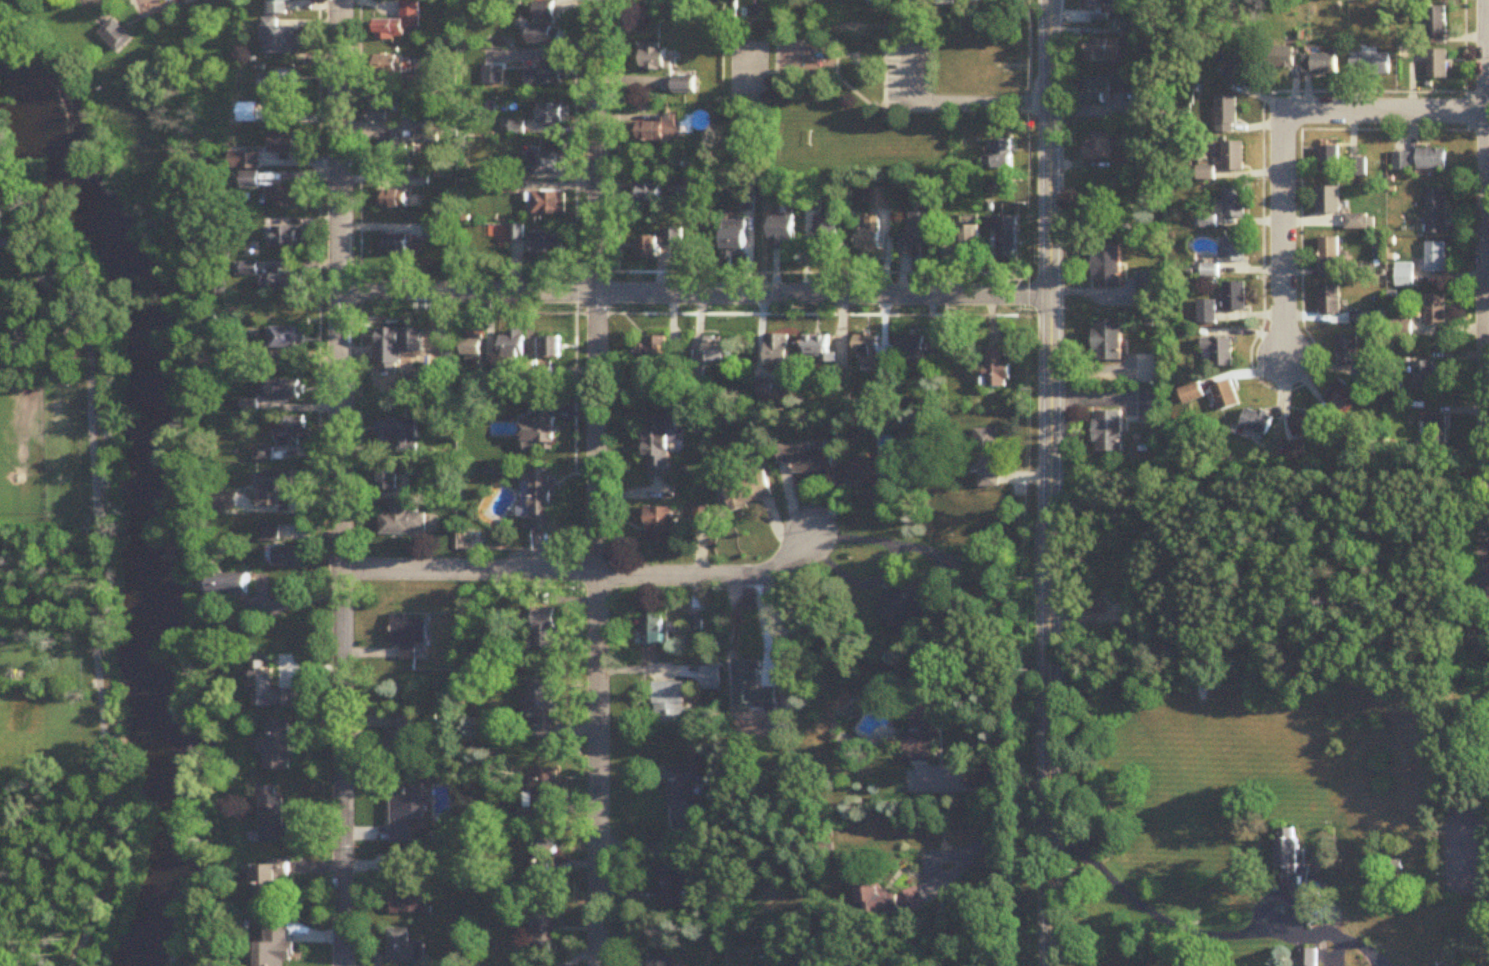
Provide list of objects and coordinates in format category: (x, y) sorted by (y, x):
building: (204, 0)
building: (949, 2)
building: (974, 2)
building: (1106, 3)
building: (281, 7)
road: (99, 10)
building: (543, 10)
road: (156, 11)
building: (400, 22)
building: (1436, 22)
road: (1484, 29)
building: (547, 35)
park: (106, 36)
building: (114, 36)
building: (283, 39)
road: (817, 43)
building: (1101, 50)
road: (1025, 56)
building: (655, 58)
building: (1281, 58)
building: (1319, 65)
building: (1370, 65)
building: (1437, 65)
road: (1485, 65)
building: (389, 66)
park: (879, 68)
building: (1242, 70)
building: (545, 73)
park: (747, 74)
road: (812, 75)
road: (836, 78)
building: (280, 83)
building: (684, 87)
building: (1107, 87)
road: (955, 105)
road: (880, 106)
building: (380, 110)
road: (956, 111)
building: (552, 114)
building: (1227, 114)
building: (517, 127)
building: (657, 130)
road: (1282, 141)
building: (289, 143)
road: (1487, 143)
road: (360, 146)
building: (1100, 146)
building: (395, 149)
building: (998, 156)
building: (1234, 156)
building: (1431, 160)
building: (246, 161)
building: (1328, 161)
building: (1400, 162)
building: (546, 163)
building: (1356, 169)
building: (251, 181)
building: (650, 193)
building: (394, 194)
building: (287, 197)
building: (1328, 201)
building: (548, 203)
building: (1234, 203)
building: (1436, 212)
building: (1354, 222)
building: (782, 230)
building: (433, 232)
building: (734, 233)
building: (915, 233)
building: (1003, 234)
building: (825, 236)
building: (288, 237)
building: (672, 238)
building: (866, 239)
building: (969, 239)
road: (1485, 240)
road: (1487, 243)
building: (394, 244)
building: (547, 245)
road: (60, 248)
building: (647, 248)
building: (1232, 249)
building: (1329, 258)
building: (1436, 258)
building: (1107, 264)
building: (1404, 275)
building: (289, 281)
building: (1144, 290)
road: (320, 291)
road: (694, 295)
building: (1232, 296)
building: (1328, 300)
building: (1436, 309)
building: (1206, 312)
building: (1400, 330)
building: (288, 338)
building: (393, 339)
building: (1107, 340)
road: (1251, 342)
building: (512, 345)
building: (472, 348)
building: (552, 348)
building: (817, 348)
building: (718, 350)
building: (1345, 350)
building: (777, 351)
building: (1218, 351)
building: (653, 352)
building: (866, 352)
building: (917, 352)
building: (997, 368)
building: (1369, 368)
building: (1424, 377)
building: (286, 391)
building: (1191, 394)
building: (1225, 396)
building: (1339, 397)
building: (1147, 406)
park: (45, 417)
building: (1256, 422)
building: (1300, 425)
building: (1435, 430)
building: (1107, 432)
building: (295, 433)
building: (540, 435)
building: (659, 446)
building: (987, 457)
building: (806, 459)
building: (387, 476)
road: (595, 482)
building: (870, 482)
road: (339, 483)
road: (1048, 483)
building: (280, 487)
river: (169, 491)
building: (748, 491)
building: (542, 499)
building: (402, 524)
building: (661, 526)
building: (270, 534)
road: (1482, 553)
building: (289, 557)
road: (581, 573)
building: (232, 587)
road: (100, 591)
building: (906, 600)
road: (1485, 620)
building: (545, 630)
building: (653, 631)
building: (407, 632)
building: (1480, 647)
building: (271, 690)
building: (669, 704)
building: (541, 707)
building: (922, 732)
building: (403, 736)
building: (277, 745)
road: (986, 785)
building: (681, 794)
building: (545, 795)
building: (407, 813)
building: (274, 815)
road: (989, 836)
park: (1465, 854)
building: (542, 855)
building: (1291, 856)
building: (270, 886)
building: (674, 886)
building: (408, 887)
building: (889, 902)
road: (1204, 933)
building: (546, 935)
building: (403, 948)
building: (273, 949)
building: (1308, 957)
building: (663, 960)

